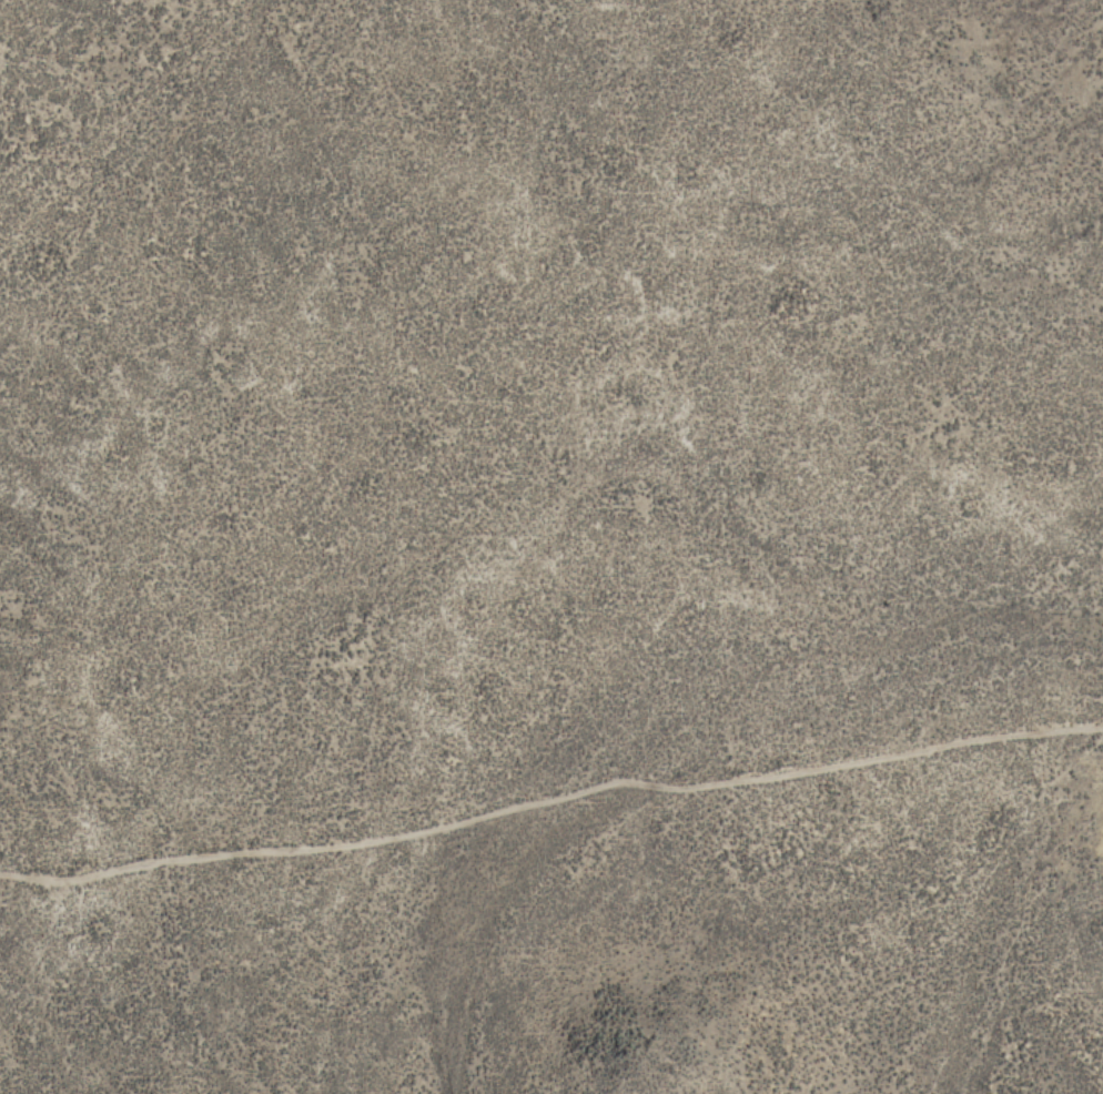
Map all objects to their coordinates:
road: (550, 798)

